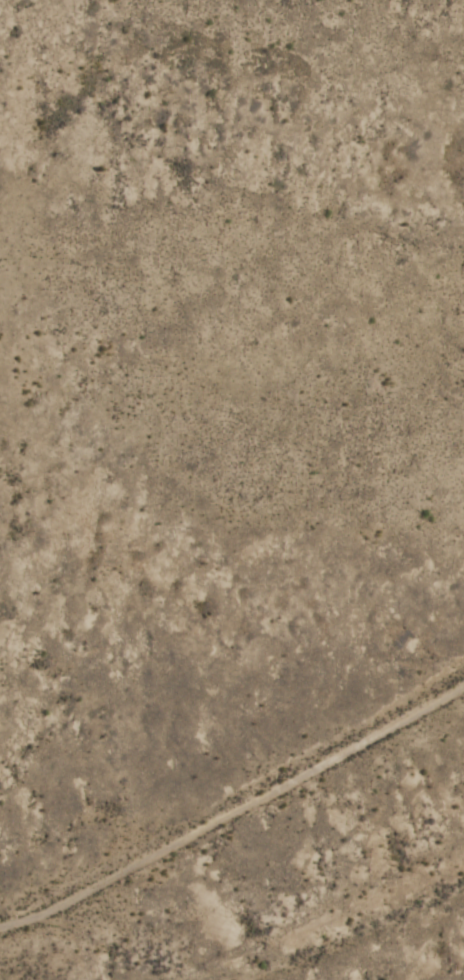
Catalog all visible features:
road: (234, 808)

